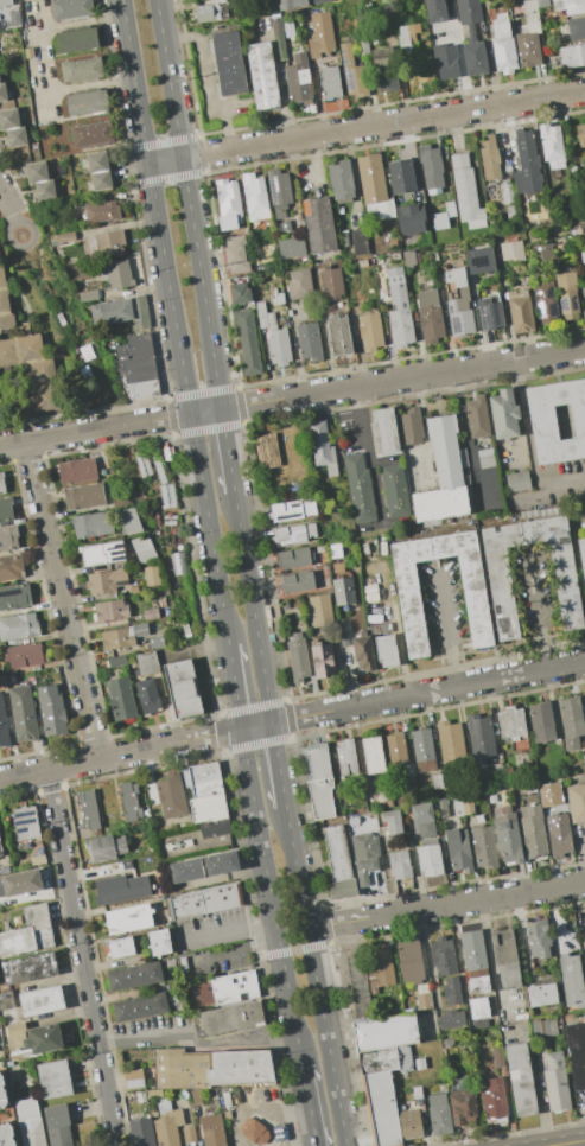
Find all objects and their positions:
building: (524, 0)
building: (318, 1)
building: (541, 1)
building: (6, 2)
building: (290, 4)
building: (267, 6)
building: (568, 6)
building: (70, 9)
building: (435, 11)
building: (210, 13)
building: (15, 18)
road: (81, 23)
building: (576, 28)
parking lot: (34, 31)
building: (319, 34)
building: (406, 34)
building: (471, 36)
building: (278, 38)
building: (529, 38)
building: (76, 40)
building: (503, 44)
building: (362, 47)
building: (572, 56)
building: (381, 57)
building: (445, 61)
building: (228, 63)
building: (82, 70)
building: (354, 74)
building: (262, 76)
building: (298, 81)
building: (384, 81)
building: (0, 82)
building: (330, 82)
road: (206, 83)
road: (90, 85)
building: (2, 93)
parking lot: (44, 94)
building: (87, 102)
building: (9, 120)
road: (367, 128)
building: (91, 134)
building: (580, 134)
building: (17, 138)
building: (552, 147)
building: (489, 158)
building: (97, 161)
building: (526, 164)
building: (431, 167)
building: (36, 172)
building: (402, 172)
building: (341, 179)
building: (371, 179)
building: (101, 180)
building: (465, 189)
building: (45, 190)
building: (279, 191)
building: (507, 192)
building: (255, 197)
road: (189, 204)
building: (228, 205)
building: (419, 206)
road: (7, 209)
building: (450, 209)
building: (102, 212)
building: (409, 218)
building: (440, 222)
building: (319, 225)
road: (9, 228)
building: (584, 229)
building: (64, 237)
building: (112, 242)
building: (360, 242)
building: (292, 247)
building: (541, 250)
building: (511, 252)
building: (236, 254)
building: (581, 255)
building: (394, 256)
building: (408, 257)
building: (478, 260)
building: (362, 263)
building: (117, 274)
building: (487, 280)
building: (299, 284)
building: (331, 284)
building: (583, 292)
building: (240, 293)
building: (567, 293)
building: (88, 295)
building: (278, 298)
building: (546, 301)
building: (5, 305)
building: (459, 308)
building: (399, 310)
building: (520, 311)
building: (110, 312)
building: (139, 312)
building: (430, 314)
building: (489, 314)
building: (584, 316)
building: (265, 317)
road: (174, 321)
building: (370, 332)
building: (338, 336)
road: (46, 342)
building: (247, 342)
building: (309, 342)
building: (132, 346)
building: (278, 346)
building: (31, 369)
building: (136, 369)
building: (141, 389)
road: (292, 397)
building: (503, 414)
building: (477, 416)
building: (542, 422)
building: (411, 426)
building: (384, 431)
building: (322, 447)
road: (528, 448)
road: (227, 451)
building: (267, 452)
road: (370, 457)
building: (485, 459)
building: (76, 471)
building: (443, 476)
building: (517, 482)
building: (1, 483)
building: (358, 489)
building: (395, 491)
building: (84, 496)
building: (6, 509)
building: (292, 510)
building: (129, 521)
building: (91, 524)
building: (293, 534)
building: (8, 539)
building: (141, 548)
building: (333, 549)
building: (102, 554)
building: (581, 554)
building: (293, 559)
building: (177, 562)
building: (11, 567)
building: (336, 567)
building: (152, 575)
building: (106, 581)
building: (297, 582)
building: (500, 587)
building: (134, 590)
road: (534, 591)
building: (343, 592)
building: (14, 597)
road: (61, 599)
building: (411, 604)
building: (285, 605)
road: (252, 607)
road: (445, 609)
building: (109, 610)
building: (320, 611)
building: (151, 613)
building: (18, 626)
building: (122, 637)
building: (157, 642)
road: (543, 649)
building: (386, 650)
building: (363, 652)
building: (24, 655)
building: (298, 657)
building: (116, 661)
building: (322, 661)
building: (147, 662)
road: (454, 667)
road: (234, 686)
building: (183, 688)
building: (147, 695)
building: (121, 699)
building: (51, 711)
building: (23, 713)
road: (291, 718)
building: (541, 721)
building: (510, 722)
building: (572, 722)
building: (4, 726)
building: (479, 736)
building: (450, 741)
building: (395, 749)
building: (422, 750)
building: (373, 755)
building: (345, 757)
building: (583, 762)
road: (278, 764)
building: (409, 770)
building: (508, 771)
building: (498, 776)
building: (437, 782)
building: (319, 783)
building: (205, 791)
building: (551, 794)
building: (171, 795)
building: (129, 801)
building: (576, 802)
building: (466, 804)
building: (441, 808)
building: (88, 810)
building: (0, 817)
building: (373, 819)
building: (422, 820)
building: (390, 821)
building: (25, 823)
building: (211, 829)
building: (533, 830)
building: (559, 834)
building: (507, 835)
building: (484, 847)
building: (103, 848)
building: (1, 849)
building: (458, 849)
building: (337, 853)
building: (364, 855)
building: (430, 859)
building: (38, 860)
building: (400, 865)
building: (204, 866)
building: (20, 884)
building: (123, 889)
building: (342, 889)
road: (269, 896)
building: (205, 900)
road: (445, 905)
building: (128, 918)
building: (584, 923)
road: (229, 928)
building: (28, 932)
building: (539, 940)
building: (159, 942)
building: (121, 947)
road: (236, 949)
road: (294, 950)
building: (472, 950)
building: (443, 956)
road: (81, 957)
building: (505, 959)
building: (166, 961)
building: (409, 961)
building: (30, 967)
building: (380, 968)
building: (133, 976)
road: (314, 976)
building: (572, 981)
building: (479, 983)
building: (358, 987)
building: (224, 988)
building: (451, 991)
building: (540, 994)
building: (6, 1000)
building: (42, 1000)
building: (422, 1000)
building: (176, 1005)
building: (140, 1007)
building: (478, 1007)
building: (230, 1017)
building: (451, 1019)
building: (540, 1027)
building: (383, 1031)
building: (37, 1037)
road: (196, 1044)
building: (577, 1052)
building: (497, 1058)
building: (383, 1059)
building: (418, 1063)
building: (209, 1068)
building: (133, 1078)
building: (53, 1080)
building: (521, 1080)
building: (557, 1082)
building: (2, 1093)
building: (140, 1096)
building: (197, 1096)
building: (492, 1099)
road: (309, 1104)
building: (462, 1107)
building: (380, 1108)
road: (268, 1110)
building: (439, 1114)
building: (167, 1123)
building: (409, 1123)
building: (58, 1125)
building: (31, 1129)
building: (211, 1129)
building: (254, 1131)
building: (141, 1132)
building: (189, 1134)
building: (7, 1135)
road: (570, 1142)

